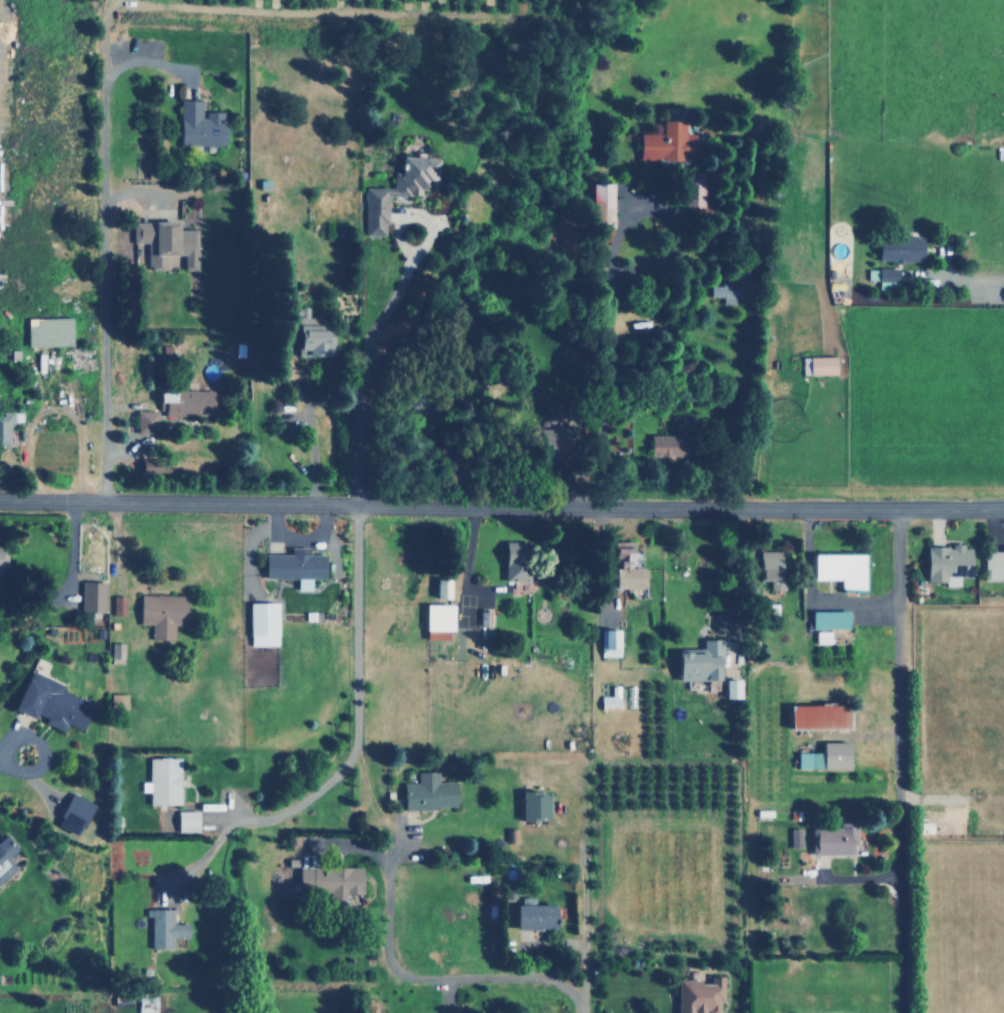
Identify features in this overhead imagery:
building: (203, 124)
building: (665, 142)
building: (598, 203)
building: (159, 239)
building: (903, 248)
building: (886, 277)
road: (971, 277)
road: (100, 279)
building: (727, 291)
road: (376, 317)
building: (52, 331)
building: (319, 341)
road: (620, 359)
building: (817, 364)
building: (190, 403)
building: (148, 422)
building: (6, 425)
building: (666, 443)
building: (157, 464)
road: (501, 507)
building: (515, 560)
building: (946, 562)
building: (991, 563)
building: (298, 566)
building: (3, 567)
building: (770, 567)
building: (842, 568)
building: (629, 577)
building: (95, 596)
building: (121, 605)
building: (438, 610)
building: (164, 613)
building: (485, 618)
building: (826, 622)
building: (266, 623)
road: (349, 629)
building: (825, 636)
building: (606, 642)
building: (118, 649)
building: (698, 663)
building: (736, 688)
building: (607, 698)
building: (120, 700)
building: (55, 703)
building: (820, 716)
road: (39, 754)
building: (833, 754)
road: (892, 760)
building: (165, 780)
building: (426, 792)
building: (533, 805)
building: (77, 813)
building: (189, 820)
building: (797, 837)
building: (830, 839)
building: (7, 857)
building: (332, 881)
building: (534, 915)
building: (167, 927)
road: (428, 979)
building: (694, 995)

